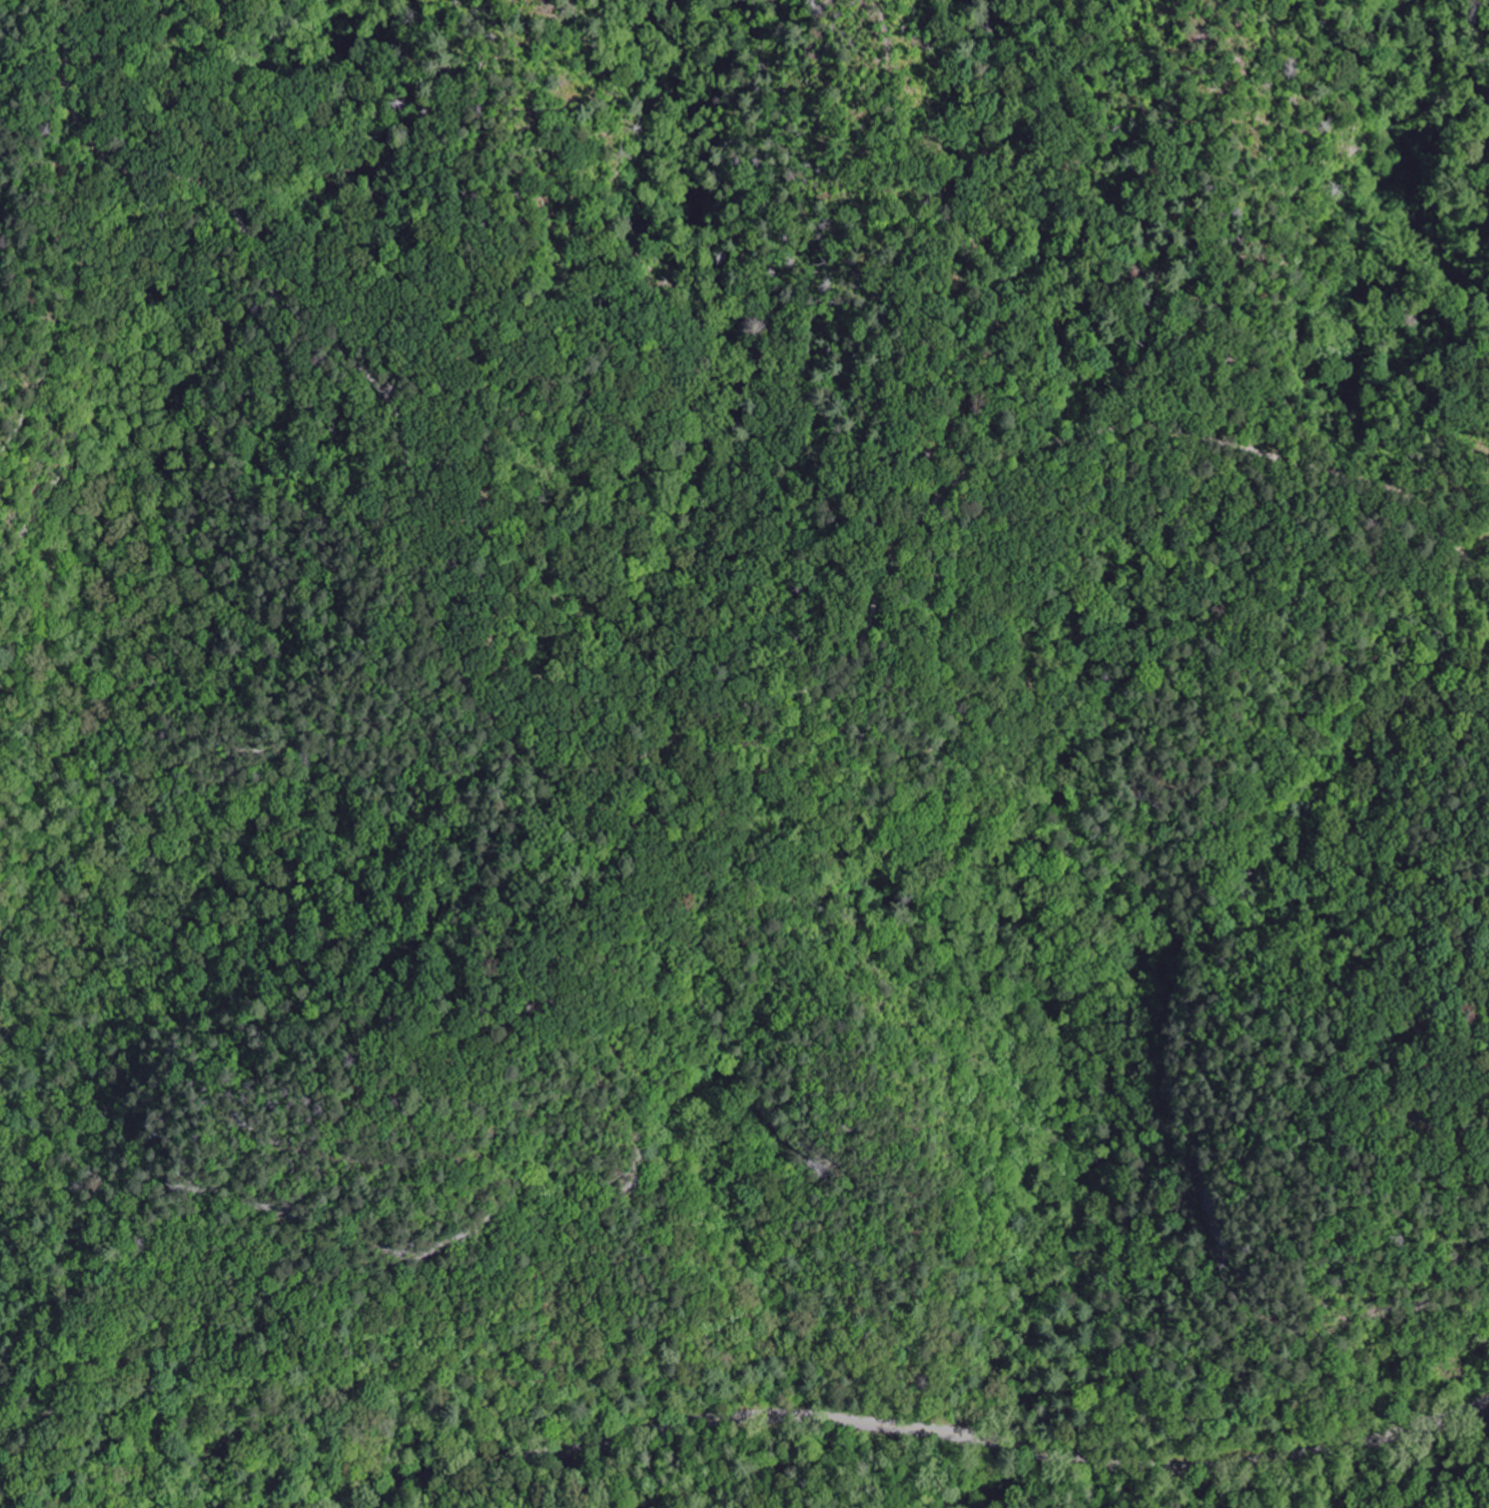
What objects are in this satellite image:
road: (1235, 214)
road: (51, 243)
road: (618, 757)
road: (576, 914)
road: (916, 1428)

